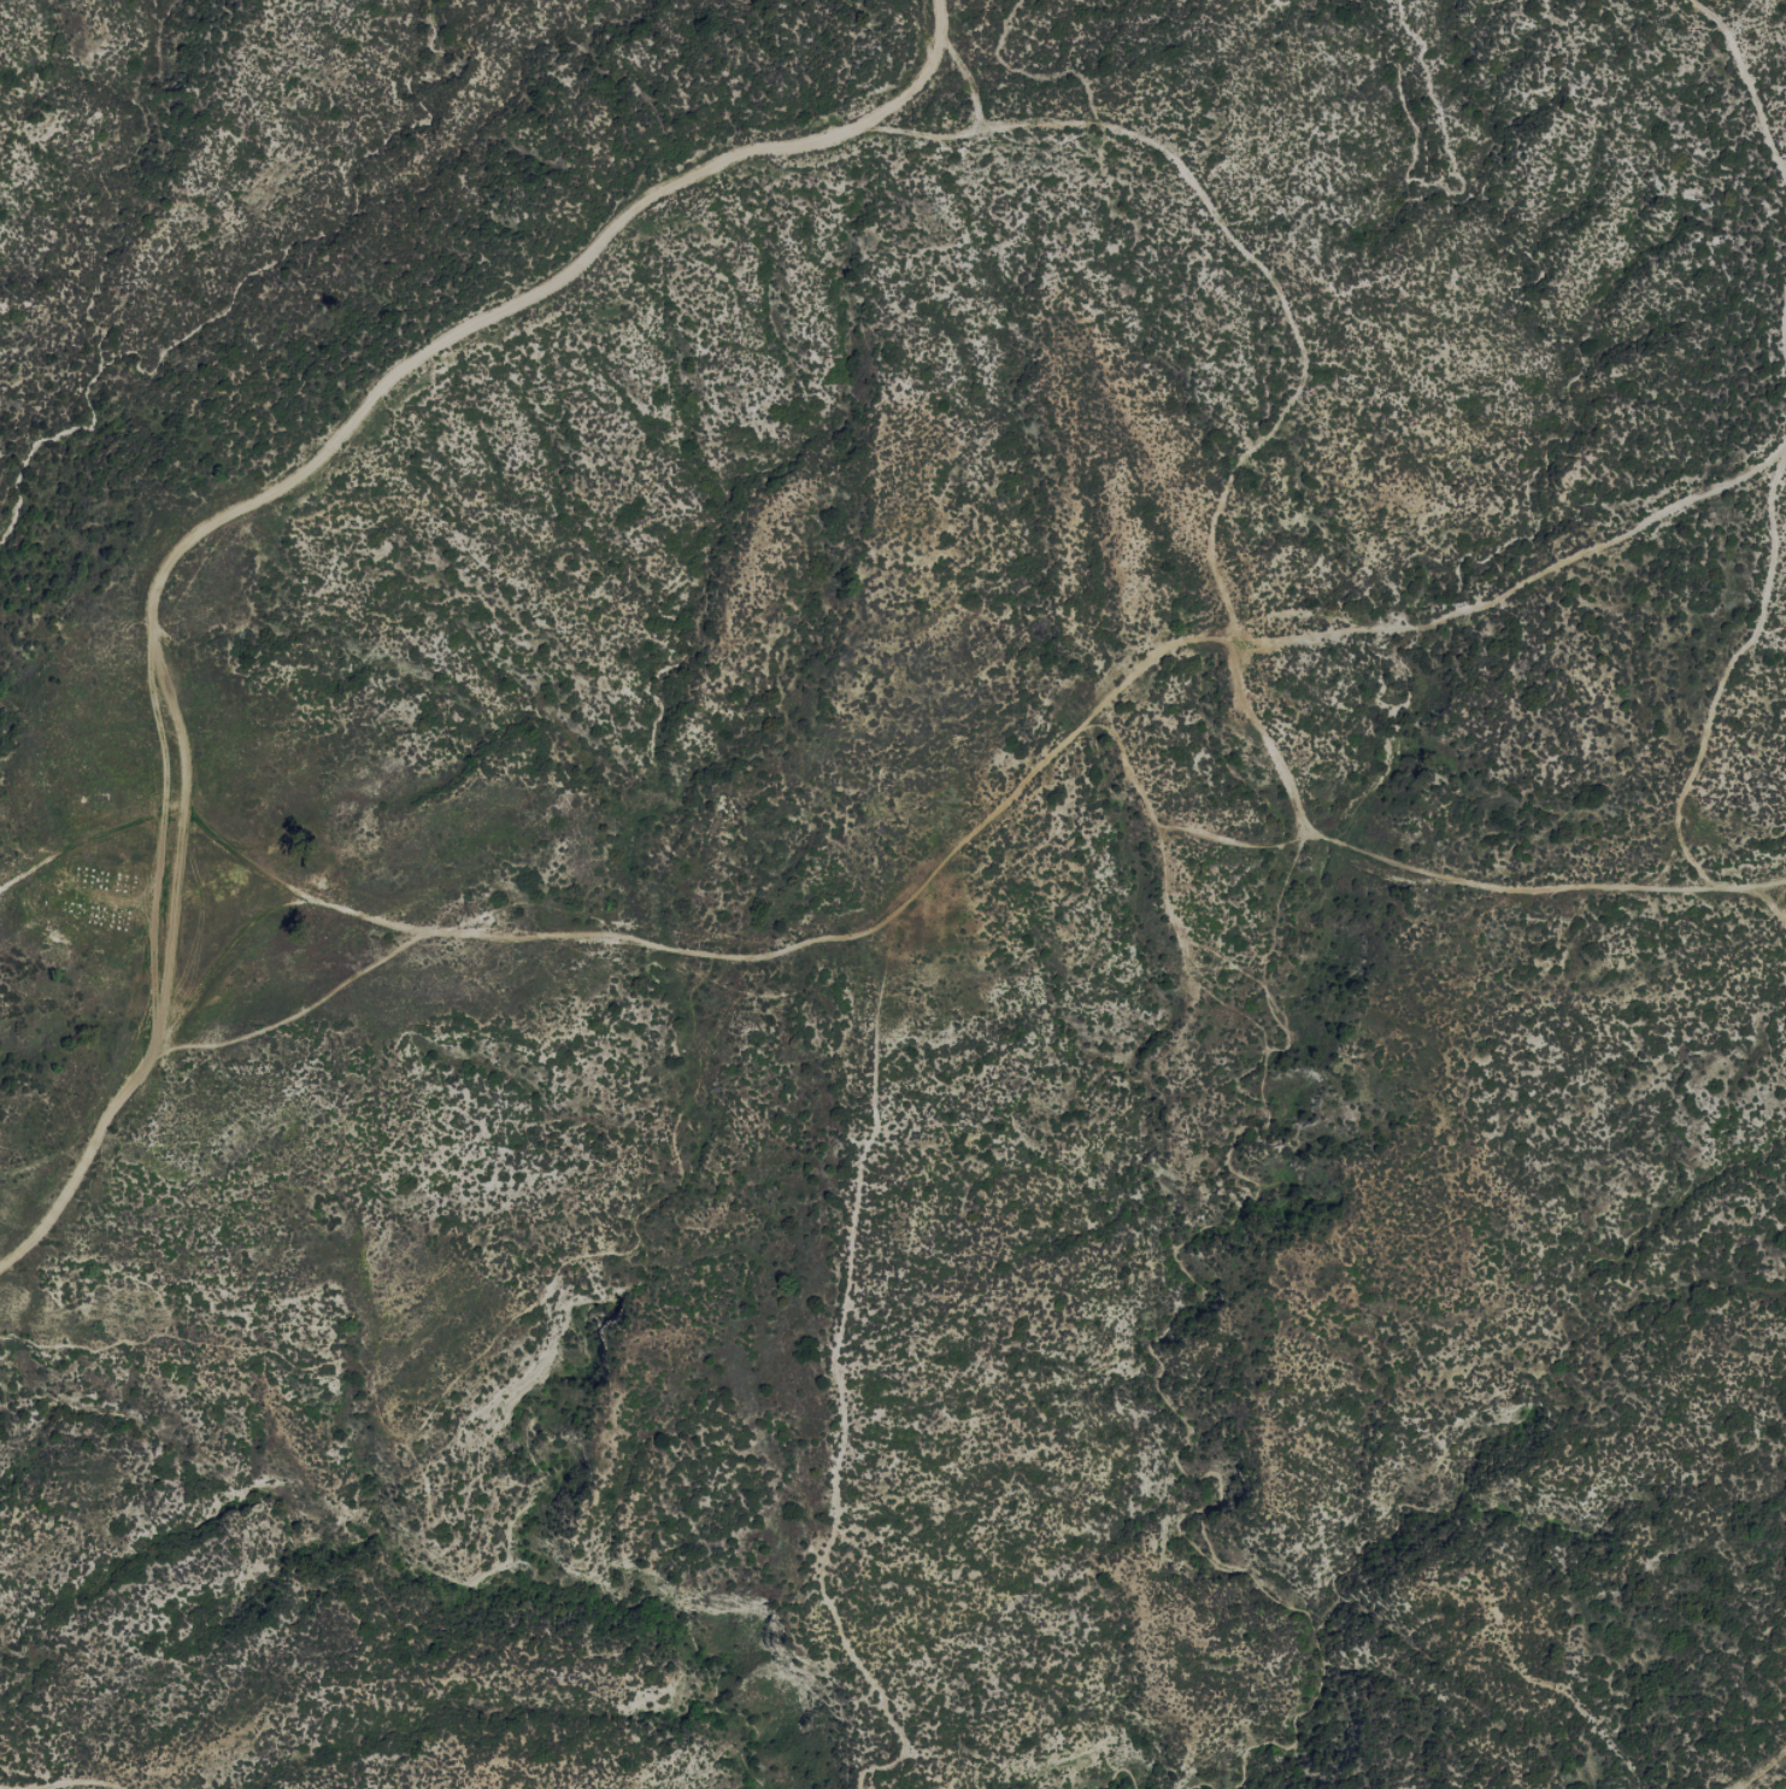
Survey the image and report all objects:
road: (278, 452)
road: (110, 1265)

